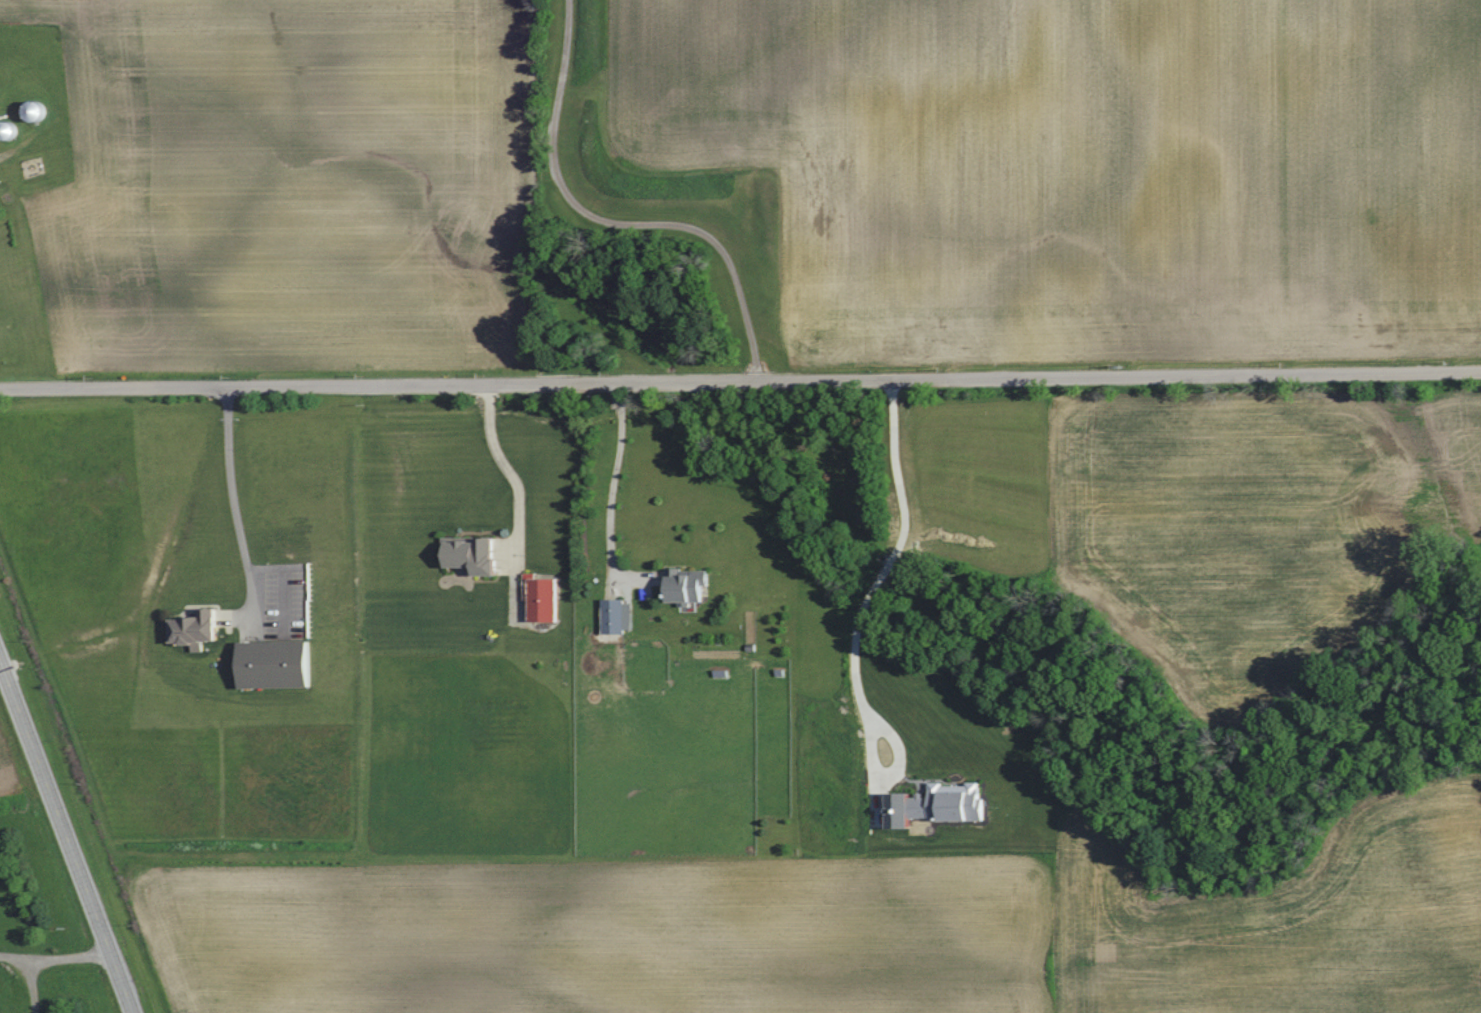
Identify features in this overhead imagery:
road: (615, 223)
road: (740, 384)
road: (511, 472)
road: (611, 490)
road: (234, 493)
building: (474, 554)
building: (689, 587)
building: (544, 598)
building: (620, 616)
road: (856, 619)
building: (200, 629)
building: (279, 665)
building: (942, 805)
road: (67, 837)
road: (55, 955)
road: (33, 983)

